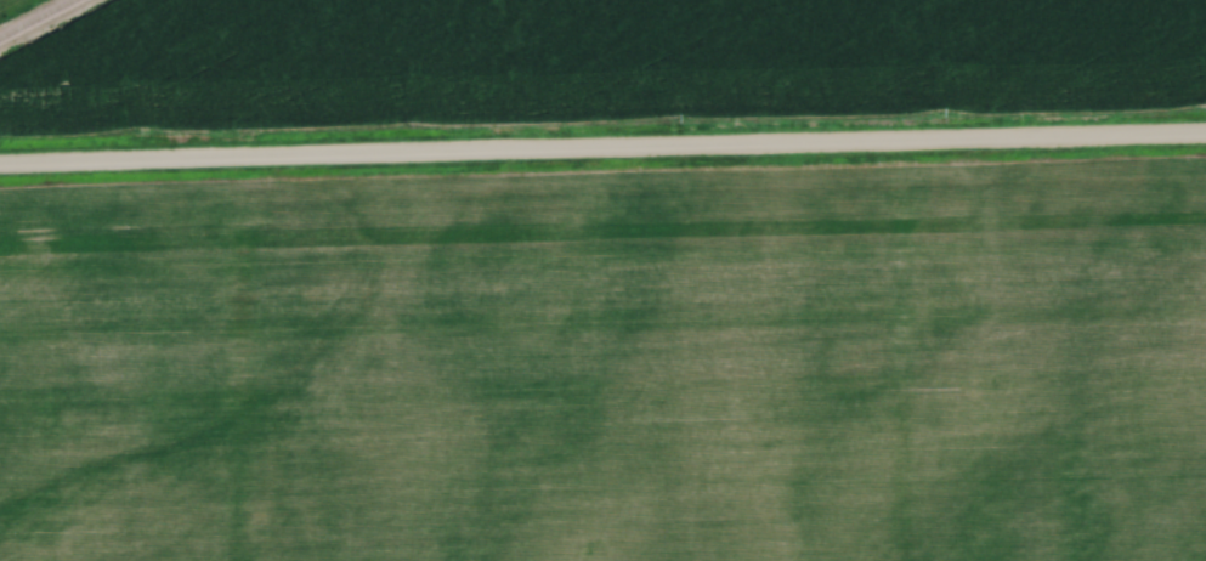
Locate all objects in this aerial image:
railway: (22, 11)
road: (602, 168)

